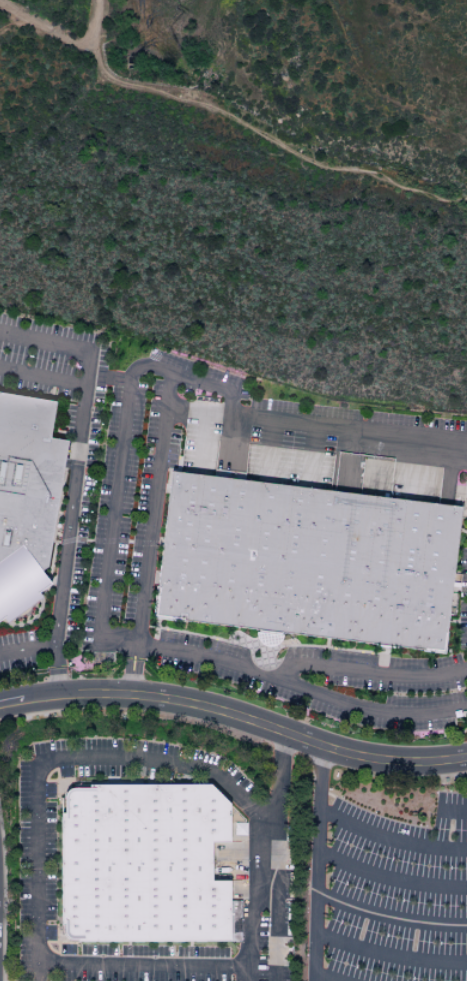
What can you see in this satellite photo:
road: (59, 38)
road: (265, 136)
road: (40, 375)
road: (213, 412)
road: (278, 421)
road: (268, 447)
road: (315, 454)
road: (71, 480)
building: (28, 500)
road: (153, 510)
road: (107, 533)
building: (304, 563)
road: (27, 651)
road: (207, 658)
road: (279, 679)
road: (235, 716)
road: (51, 760)
road: (266, 806)
road: (452, 810)
building: (238, 828)
road: (392, 839)
road: (276, 856)
building: (139, 862)
road: (319, 863)
road: (392, 879)
road: (252, 895)
road: (391, 917)
road: (391, 952)
road: (151, 966)
road: (326, 977)

